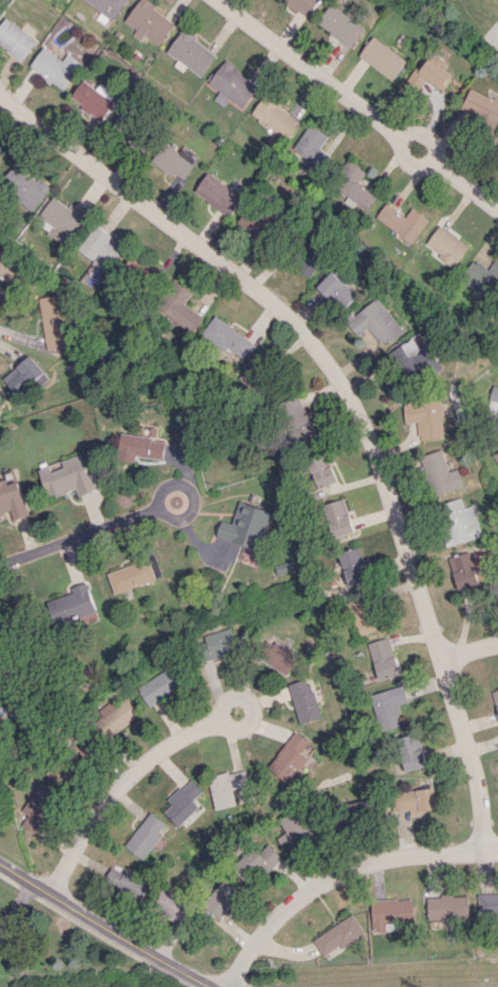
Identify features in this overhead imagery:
building: (305, 5)
building: (106, 9)
building: (149, 22)
building: (342, 25)
building: (15, 39)
building: (191, 53)
building: (383, 58)
building: (54, 67)
building: (429, 74)
building: (234, 84)
building: (92, 98)
road: (355, 105)
building: (481, 107)
building: (275, 116)
building: (125, 124)
building: (312, 145)
building: (0, 149)
building: (496, 151)
building: (175, 161)
building: (354, 185)
building: (22, 186)
building: (217, 193)
building: (61, 220)
building: (401, 221)
building: (252, 226)
building: (446, 245)
building: (100, 247)
building: (308, 259)
building: (481, 277)
building: (336, 290)
building: (177, 305)
building: (55, 321)
building: (376, 321)
building: (227, 338)
building: (428, 363)
building: (24, 376)
building: (494, 393)
road: (351, 403)
building: (425, 416)
building: (299, 420)
building: (495, 423)
building: (140, 446)
building: (496, 456)
building: (320, 470)
building: (440, 473)
building: (68, 477)
road: (189, 496)
building: (12, 499)
building: (336, 518)
building: (458, 521)
building: (245, 525)
road: (77, 534)
building: (352, 566)
building: (462, 570)
building: (131, 576)
building: (495, 587)
building: (72, 604)
building: (360, 615)
building: (218, 642)
road: (470, 652)
building: (275, 655)
building: (381, 658)
building: (158, 686)
building: (495, 697)
building: (302, 700)
building: (388, 706)
building: (114, 715)
building: (410, 752)
road: (156, 755)
building: (290, 759)
building: (226, 787)
building: (413, 800)
building: (183, 802)
building: (38, 807)
building: (295, 831)
building: (147, 836)
building: (267, 858)
road: (337, 873)
building: (127, 881)
building: (225, 898)
building: (487, 903)
building: (173, 905)
building: (447, 907)
building: (391, 912)
road: (108, 925)
building: (338, 935)

